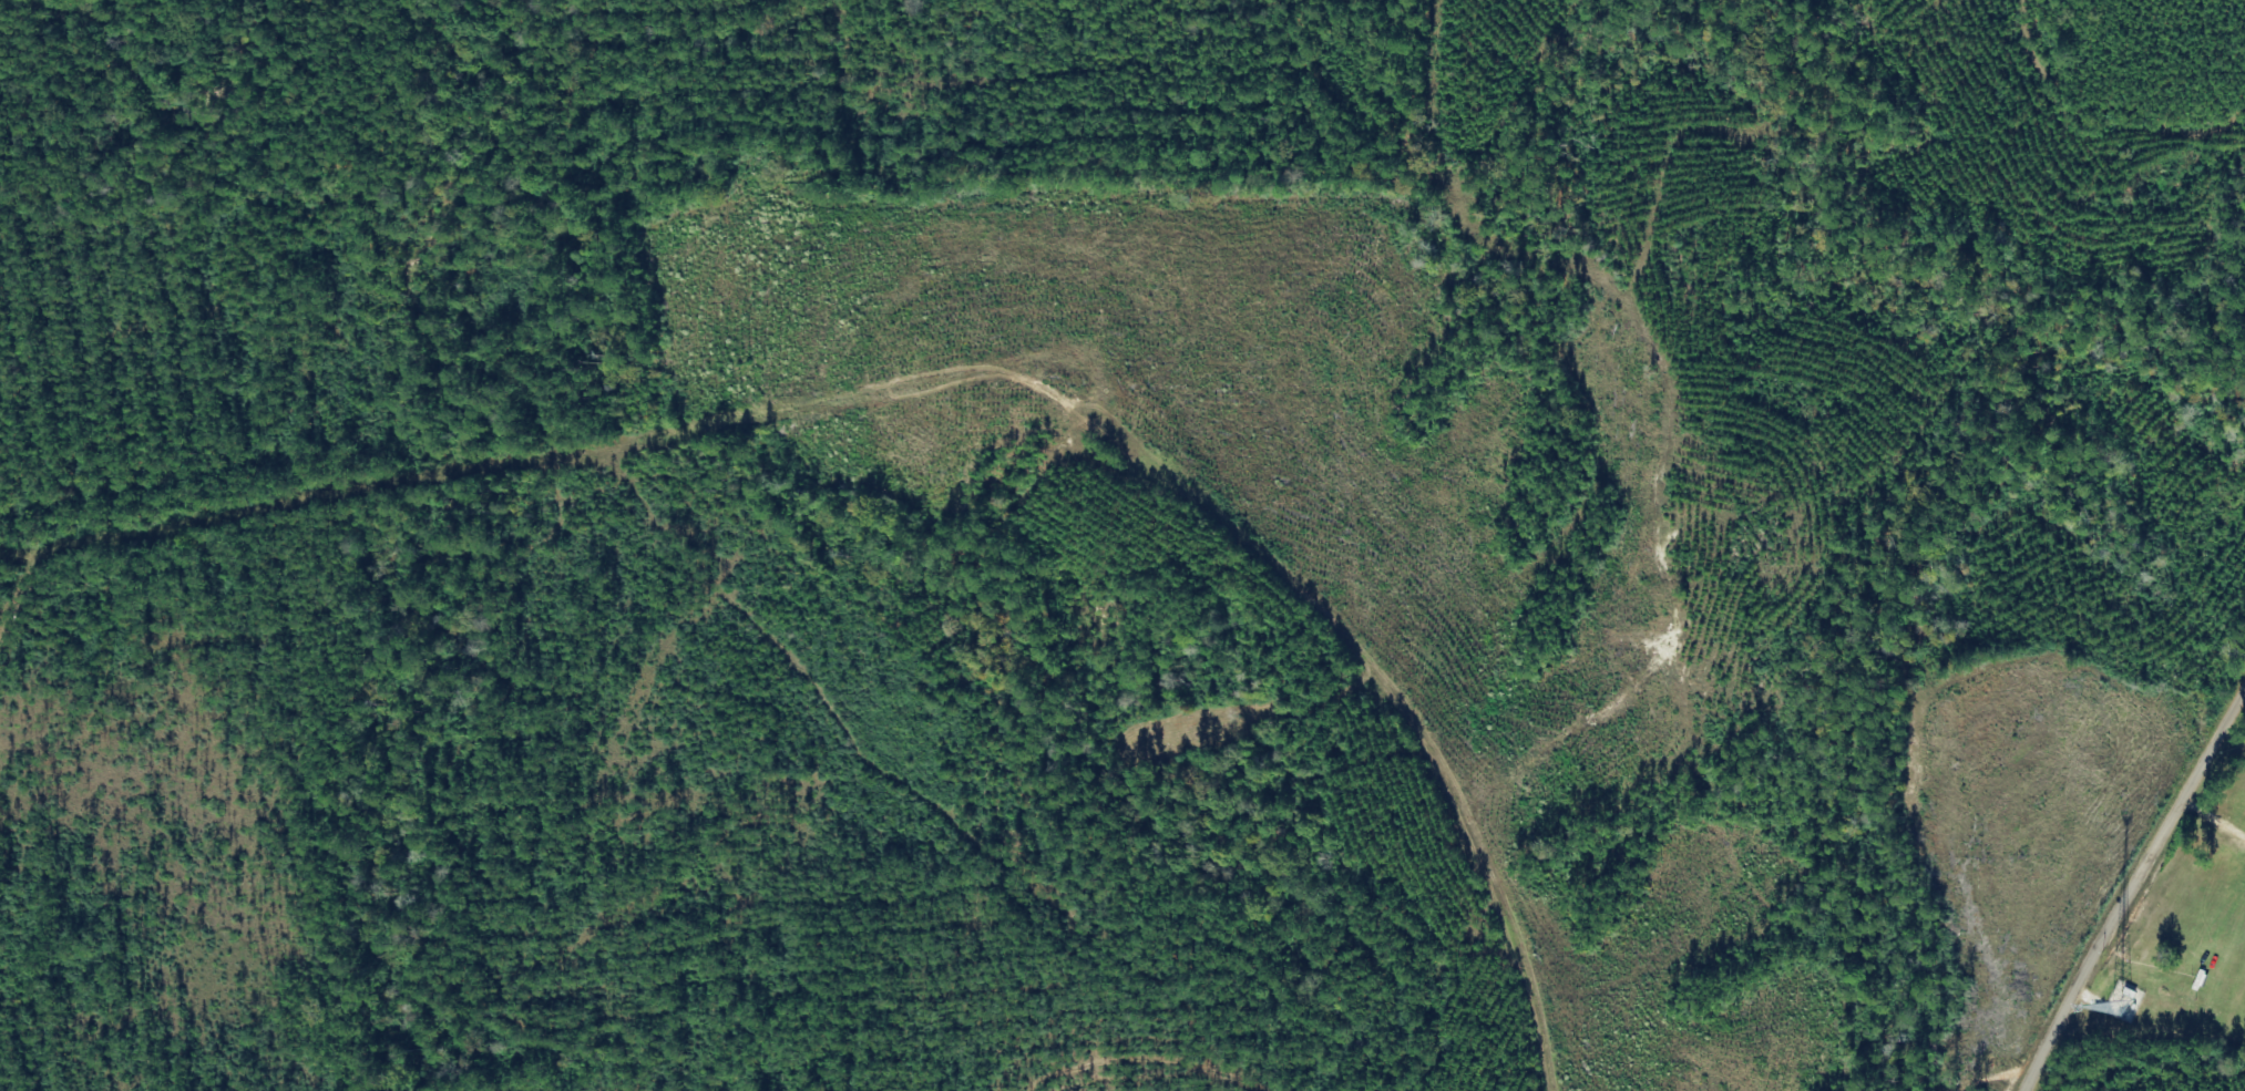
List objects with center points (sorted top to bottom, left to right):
road: (1373, 753)
road: (2122, 838)

